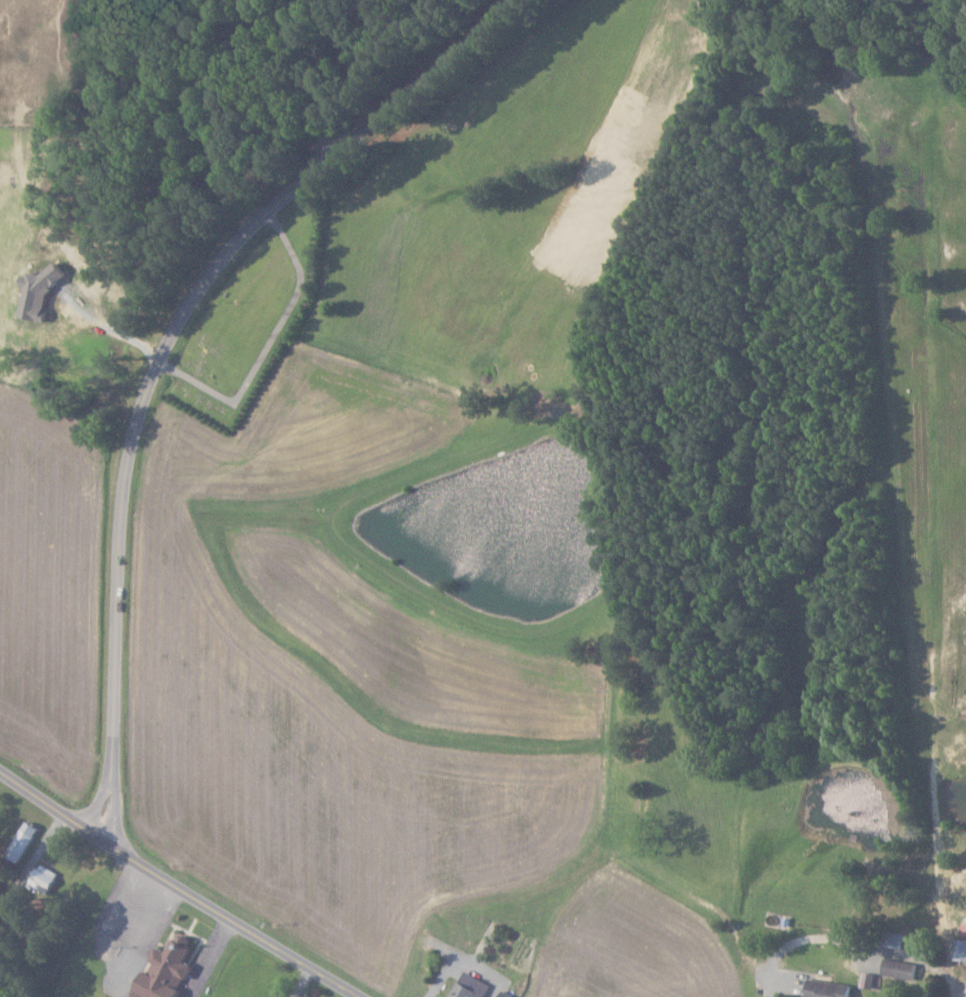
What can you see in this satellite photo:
building: (40, 293)
road: (112, 330)
road: (268, 346)
road: (169, 348)
building: (25, 840)
building: (46, 878)
road: (186, 884)
building: (965, 933)
road: (793, 945)
building: (962, 949)
building: (902, 968)
building: (169, 970)
building: (831, 989)
building: (467, 991)
building: (508, 994)
building: (307, 996)

